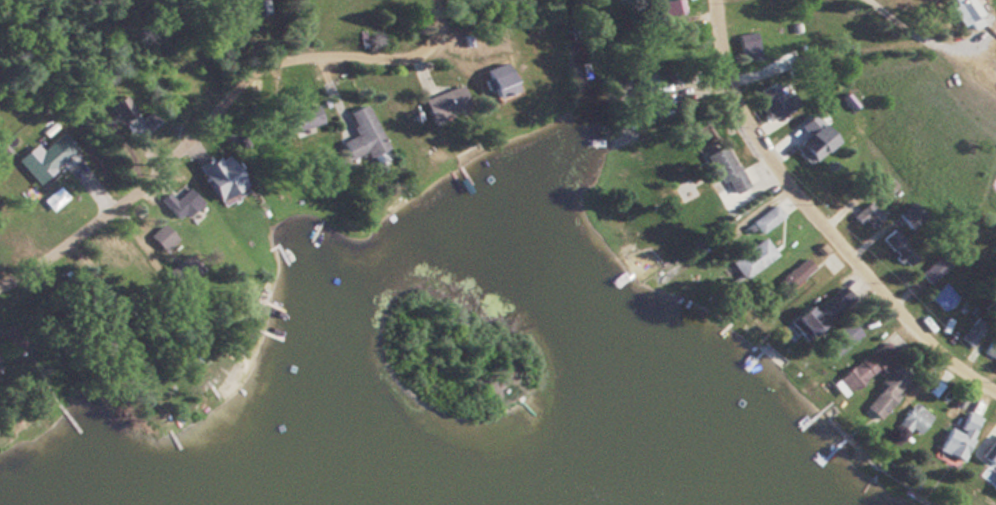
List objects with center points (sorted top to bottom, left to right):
building: (671, 9)
building: (965, 11)
road: (928, 40)
building: (749, 46)
building: (647, 84)
building: (777, 100)
building: (445, 103)
building: (122, 109)
road: (213, 110)
building: (302, 119)
building: (364, 130)
building: (44, 157)
building: (725, 168)
building: (910, 214)
building: (868, 216)
building: (766, 218)
road: (821, 220)
building: (898, 248)
building: (752, 257)
building: (933, 268)
building: (795, 273)
building: (942, 295)
building: (816, 316)
building: (972, 331)
building: (115, 338)
building: (837, 338)
building: (17, 343)
building: (869, 364)
building: (887, 389)
building: (914, 418)
building: (958, 436)
building: (992, 454)
building: (994, 477)

